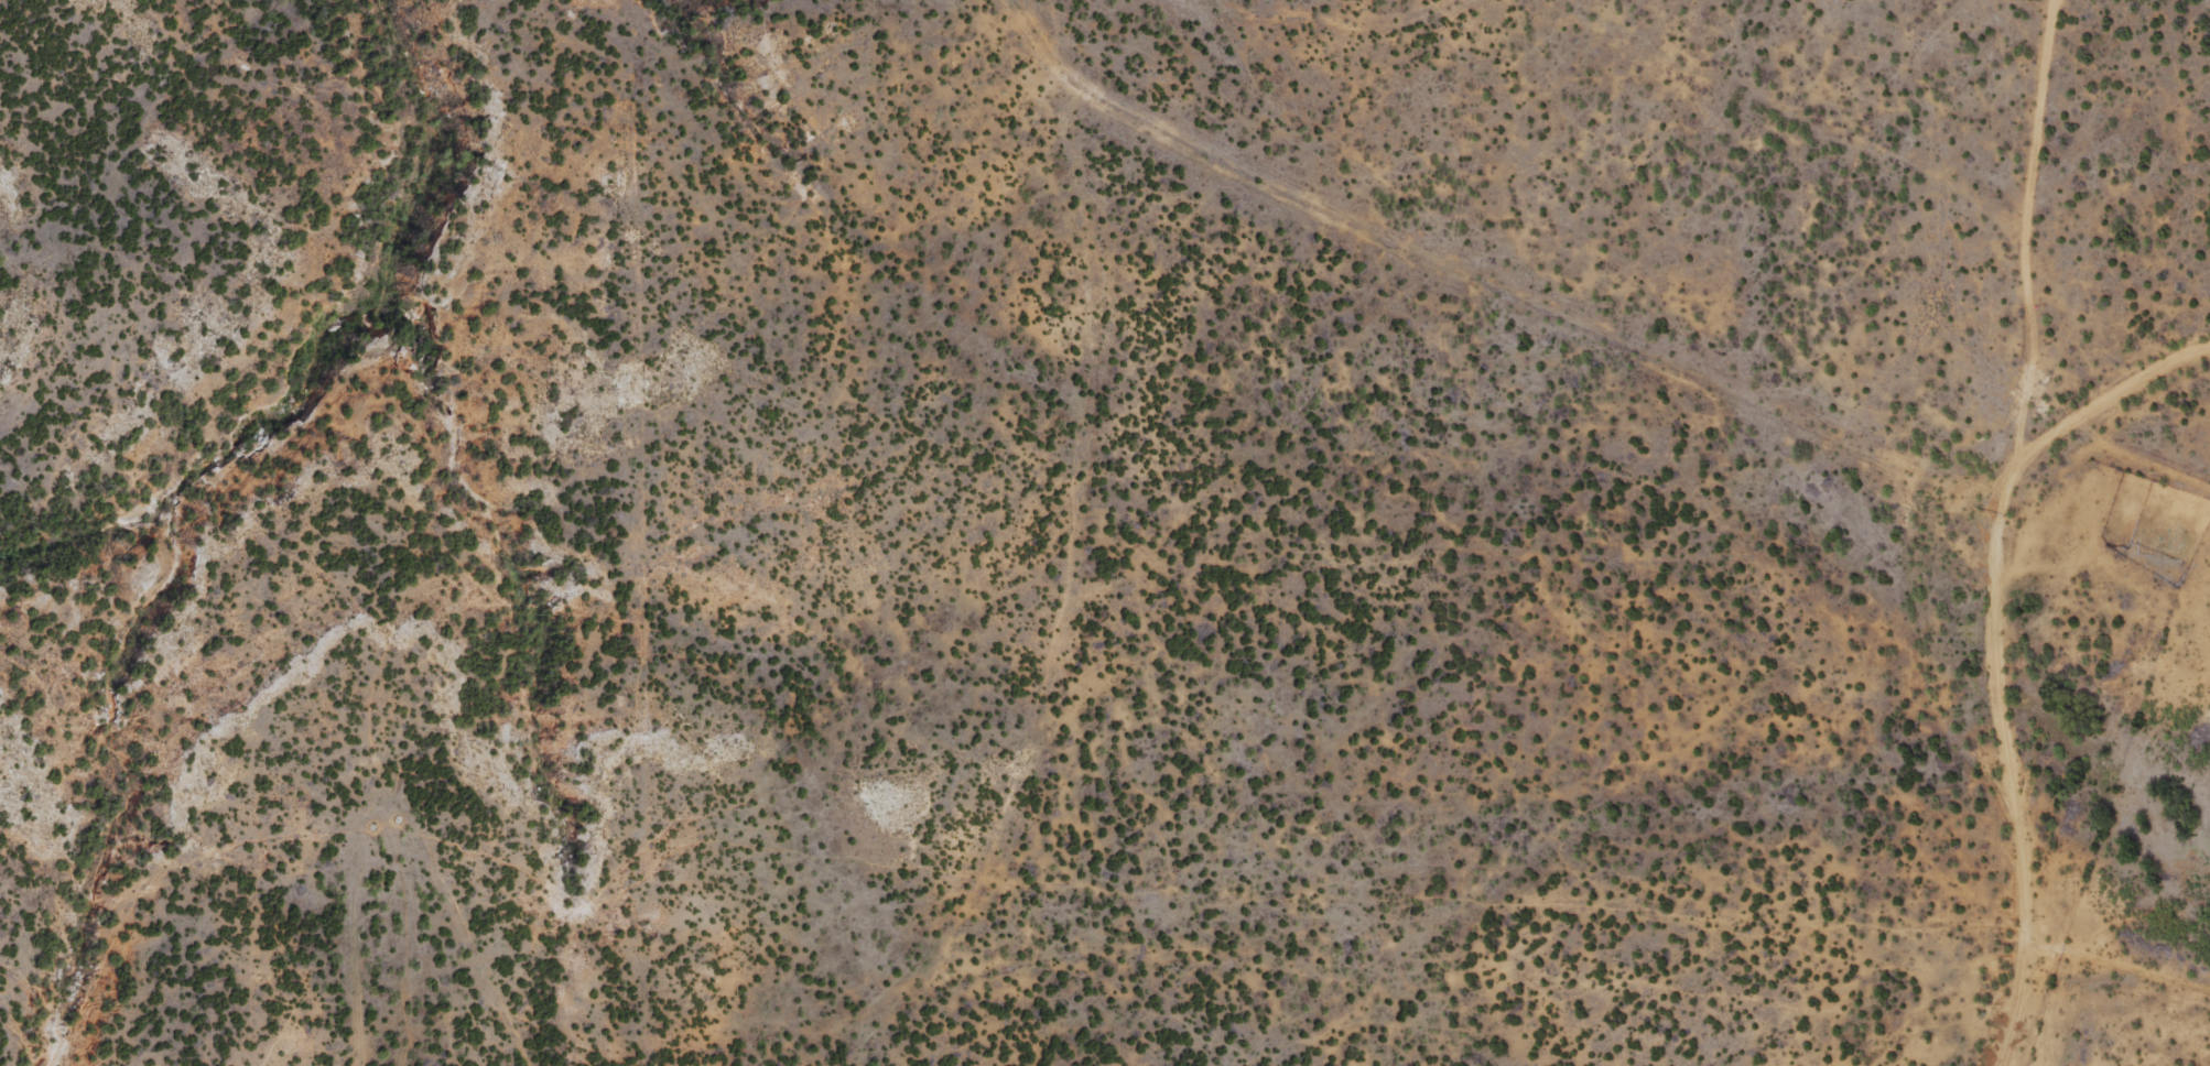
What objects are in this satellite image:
road: (1914, 623)

